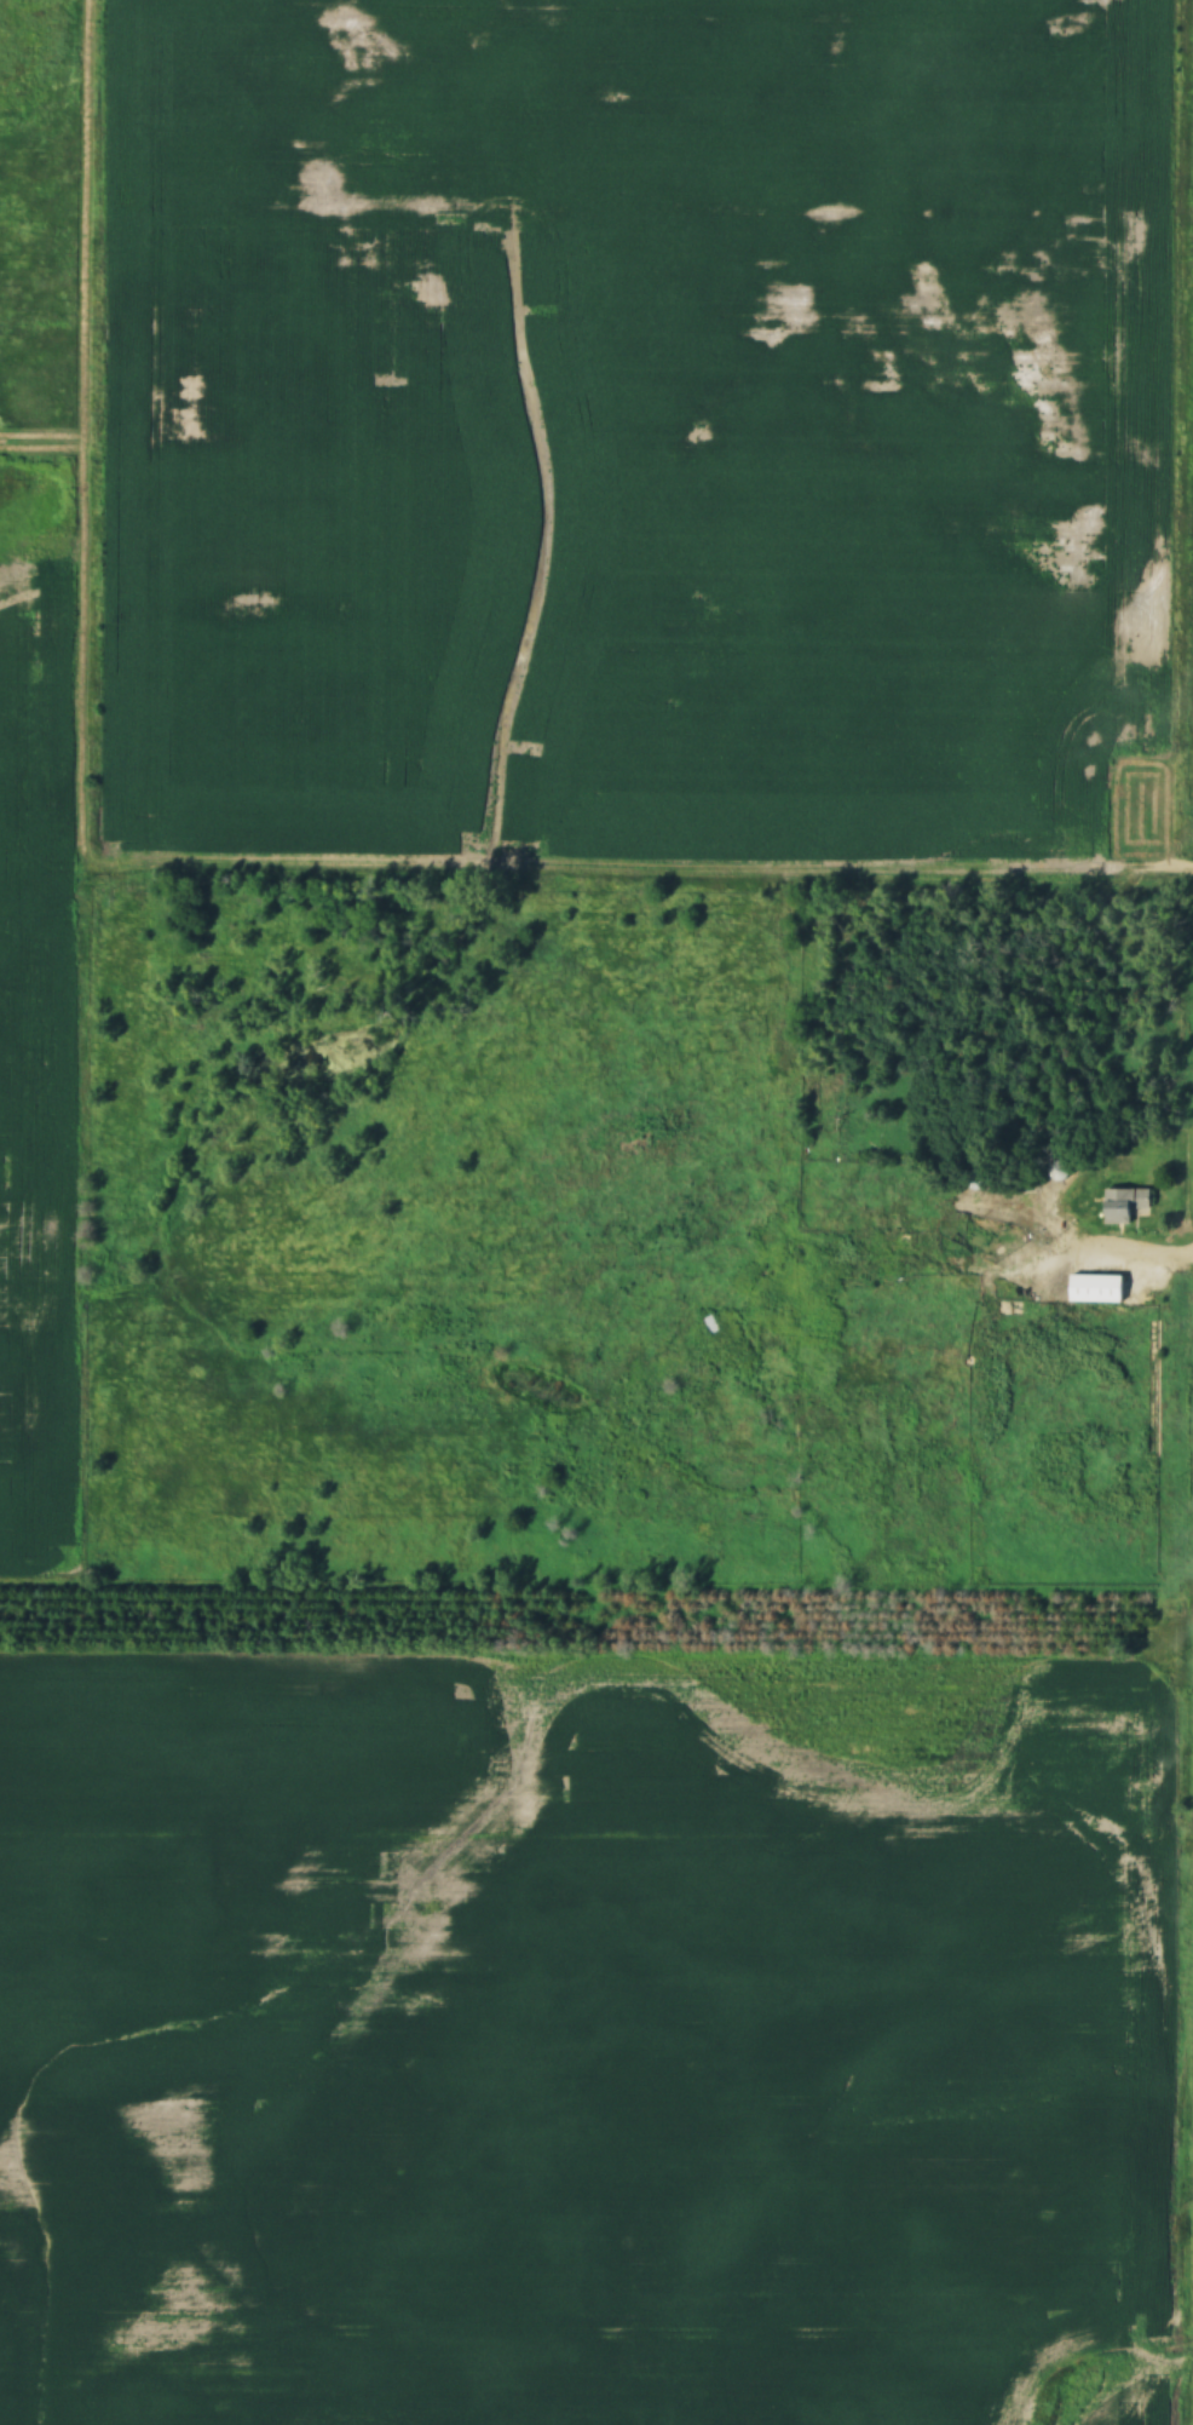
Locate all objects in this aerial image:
building: (1126, 1205)
building: (1097, 1288)
building: (709, 1324)

